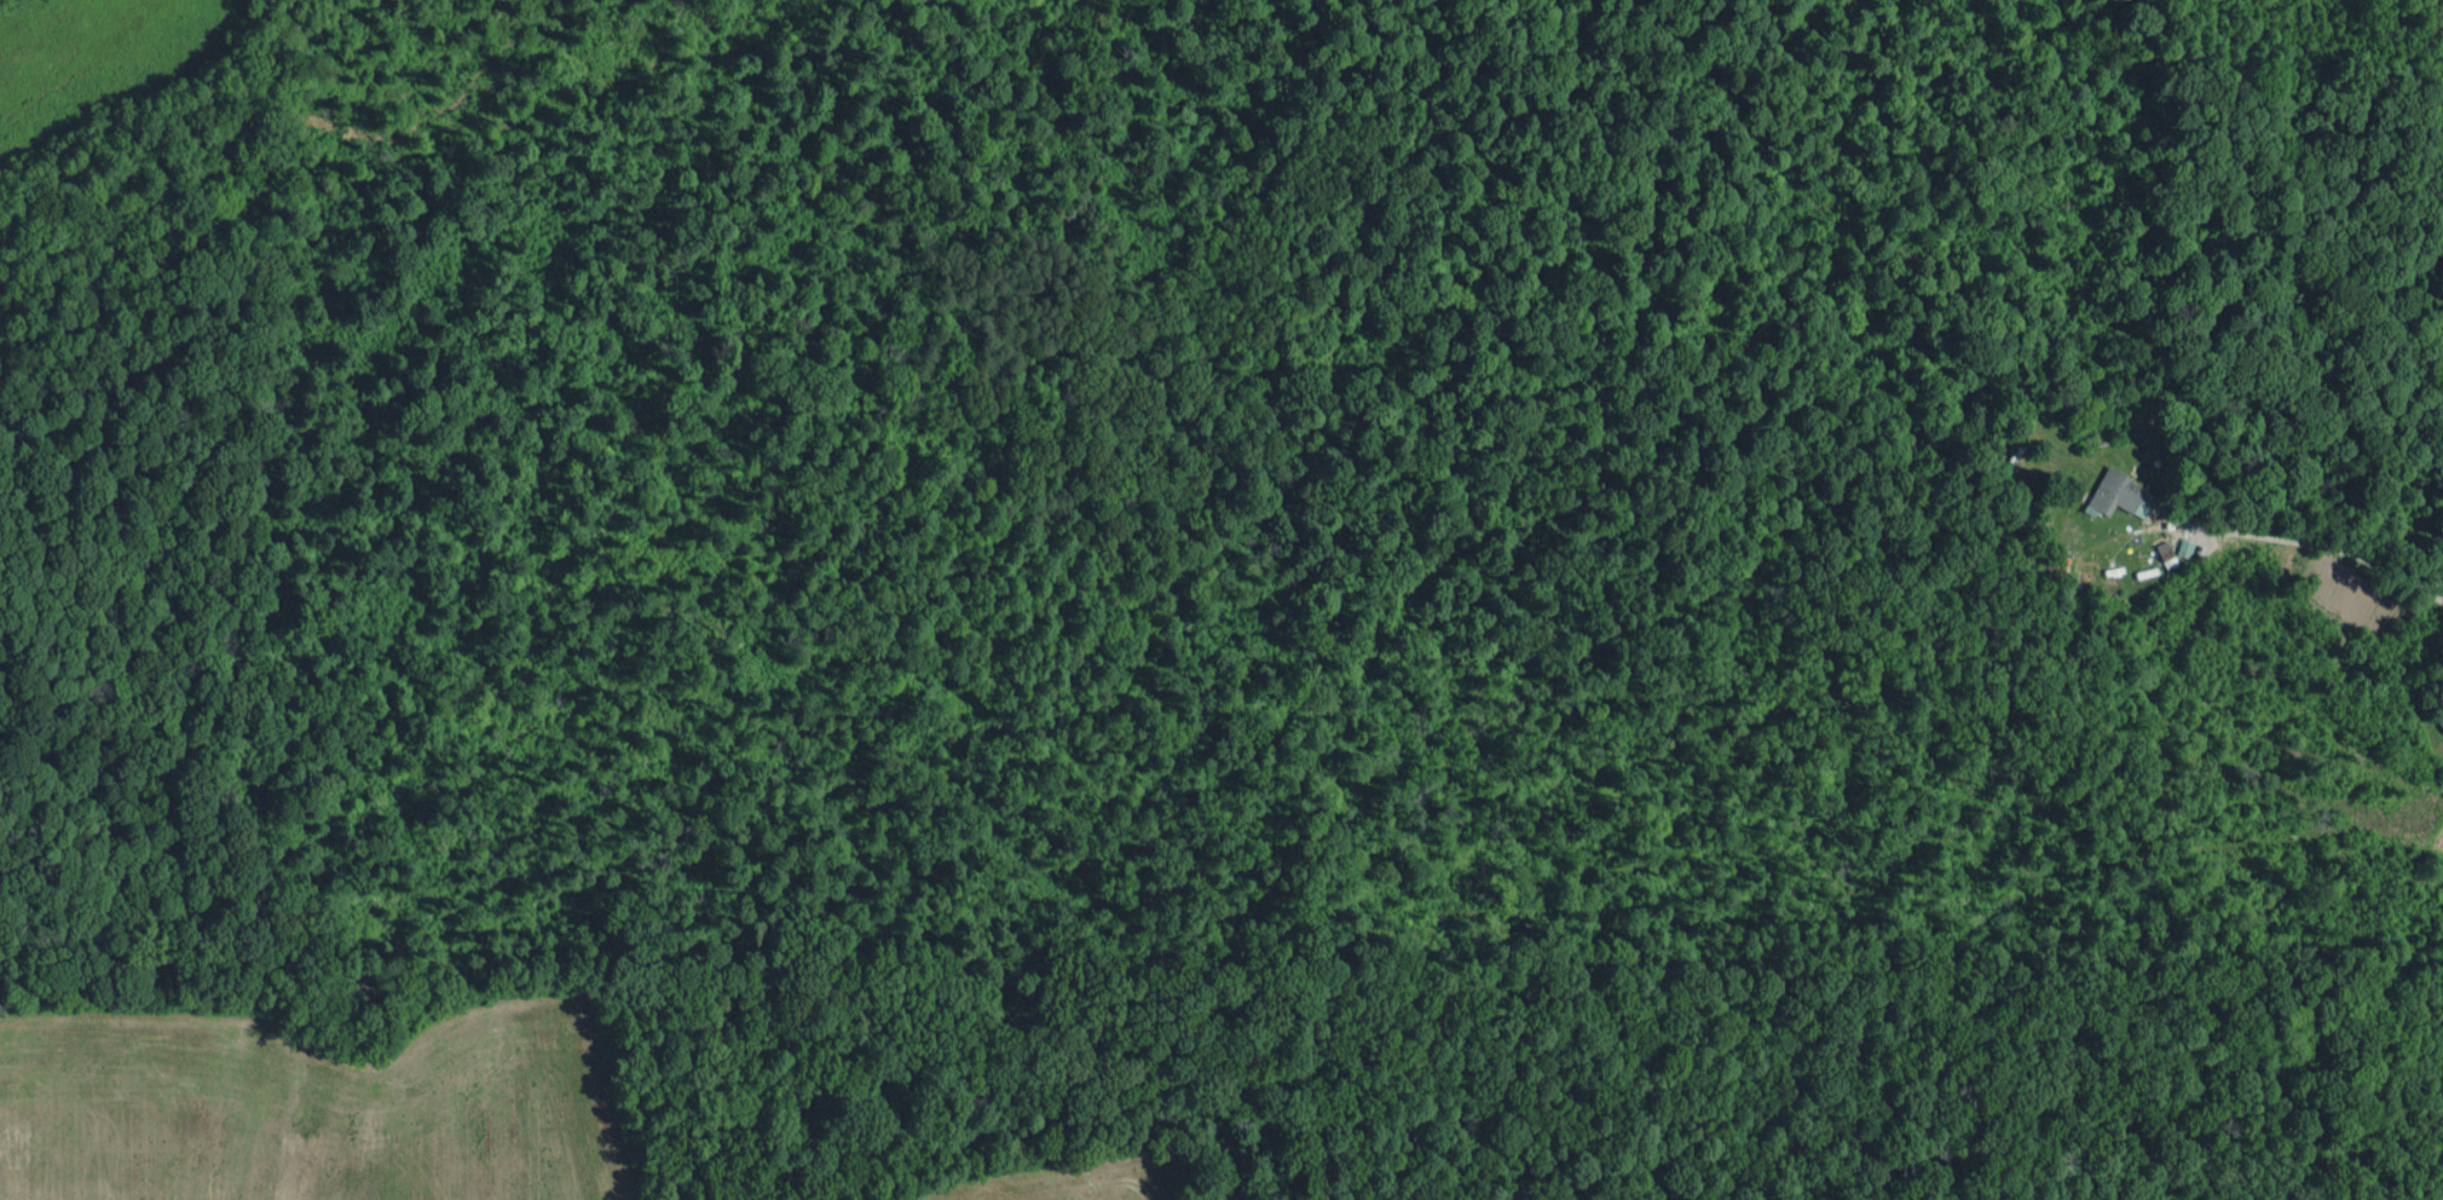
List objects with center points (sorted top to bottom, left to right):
building: (2109, 492)
building: (2439, 721)

